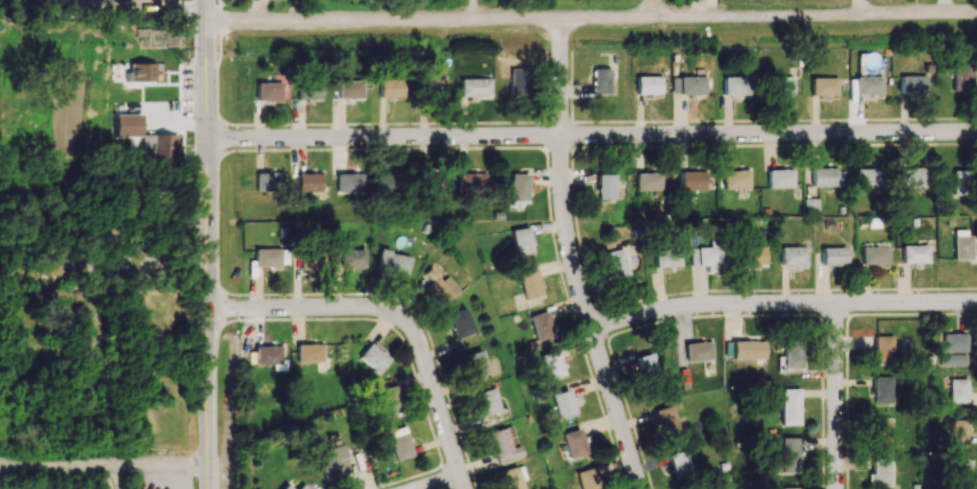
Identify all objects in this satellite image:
road: (652, 9)
road: (207, 10)
road: (592, 20)
building: (146, 72)
building: (960, 77)
building: (601, 80)
building: (516, 82)
building: (648, 84)
building: (911, 84)
building: (688, 85)
building: (735, 85)
building: (781, 85)
building: (868, 85)
building: (431, 86)
building: (824, 86)
building: (389, 87)
building: (474, 87)
building: (308, 88)
building: (348, 88)
building: (267, 91)
building: (128, 125)
road: (593, 136)
building: (827, 177)
building: (868, 177)
building: (912, 177)
building: (780, 178)
building: (736, 179)
building: (692, 180)
building: (268, 181)
building: (473, 181)
building: (649, 181)
building: (309, 182)
building: (351, 182)
building: (960, 182)
building: (388, 183)
building: (438, 183)
building: (518, 186)
building: (607, 187)
building: (521, 240)
building: (960, 244)
building: (915, 253)
road: (209, 254)
building: (667, 255)
building: (755, 255)
building: (793, 255)
building: (874, 255)
building: (833, 256)
building: (270, 257)
building: (706, 257)
building: (352, 259)
road: (574, 259)
building: (392, 261)
building: (616, 262)
building: (530, 284)
building: (439, 285)
road: (783, 305)
road: (397, 318)
building: (460, 322)
building: (540, 328)
building: (953, 342)
building: (749, 349)
building: (883, 349)
building: (698, 351)
building: (310, 352)
building: (793, 353)
building: (268, 355)
building: (373, 357)
building: (952, 359)
building: (474, 362)
building: (553, 364)
building: (646, 365)
building: (882, 389)
building: (956, 390)
road: (838, 396)
building: (388, 400)
building: (486, 401)
building: (566, 404)
building: (790, 406)
building: (667, 419)
building: (881, 430)
building: (957, 431)
building: (575, 442)
building: (398, 443)
building: (503, 443)
building: (789, 454)
building: (331, 461)
building: (682, 465)
road: (46, 467)
road: (140, 468)
building: (959, 471)
building: (881, 473)
building: (512, 477)
building: (588, 478)
road: (438, 482)
building: (286, 487)
building: (301, 487)
building: (789, 487)

